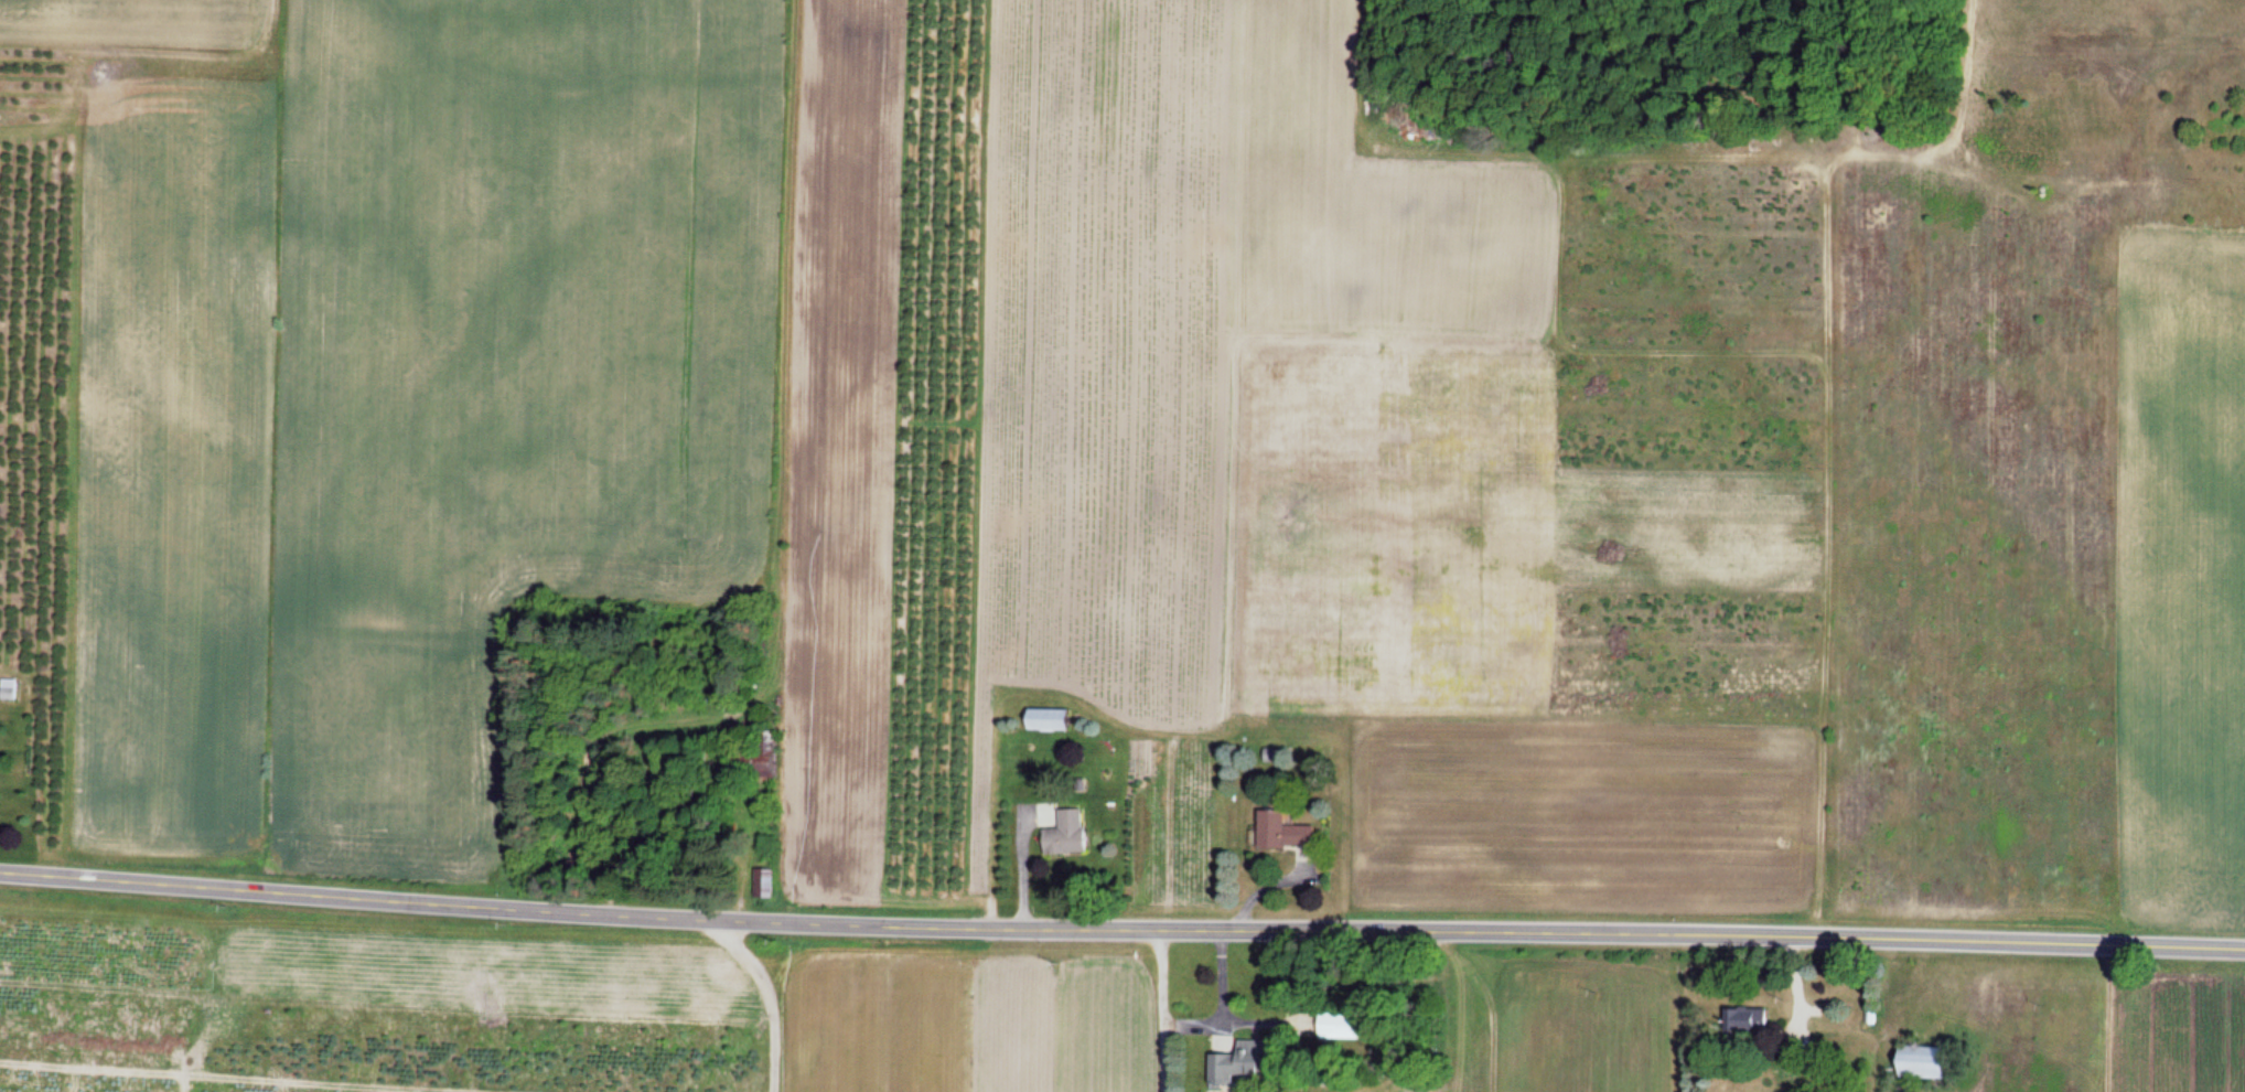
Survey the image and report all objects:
building: (8, 689)
building: (1039, 718)
building: (1280, 832)
building: (1064, 834)
road: (1121, 928)
building: (1743, 1019)
building: (1338, 1026)
building: (1919, 1061)
building: (1237, 1066)

